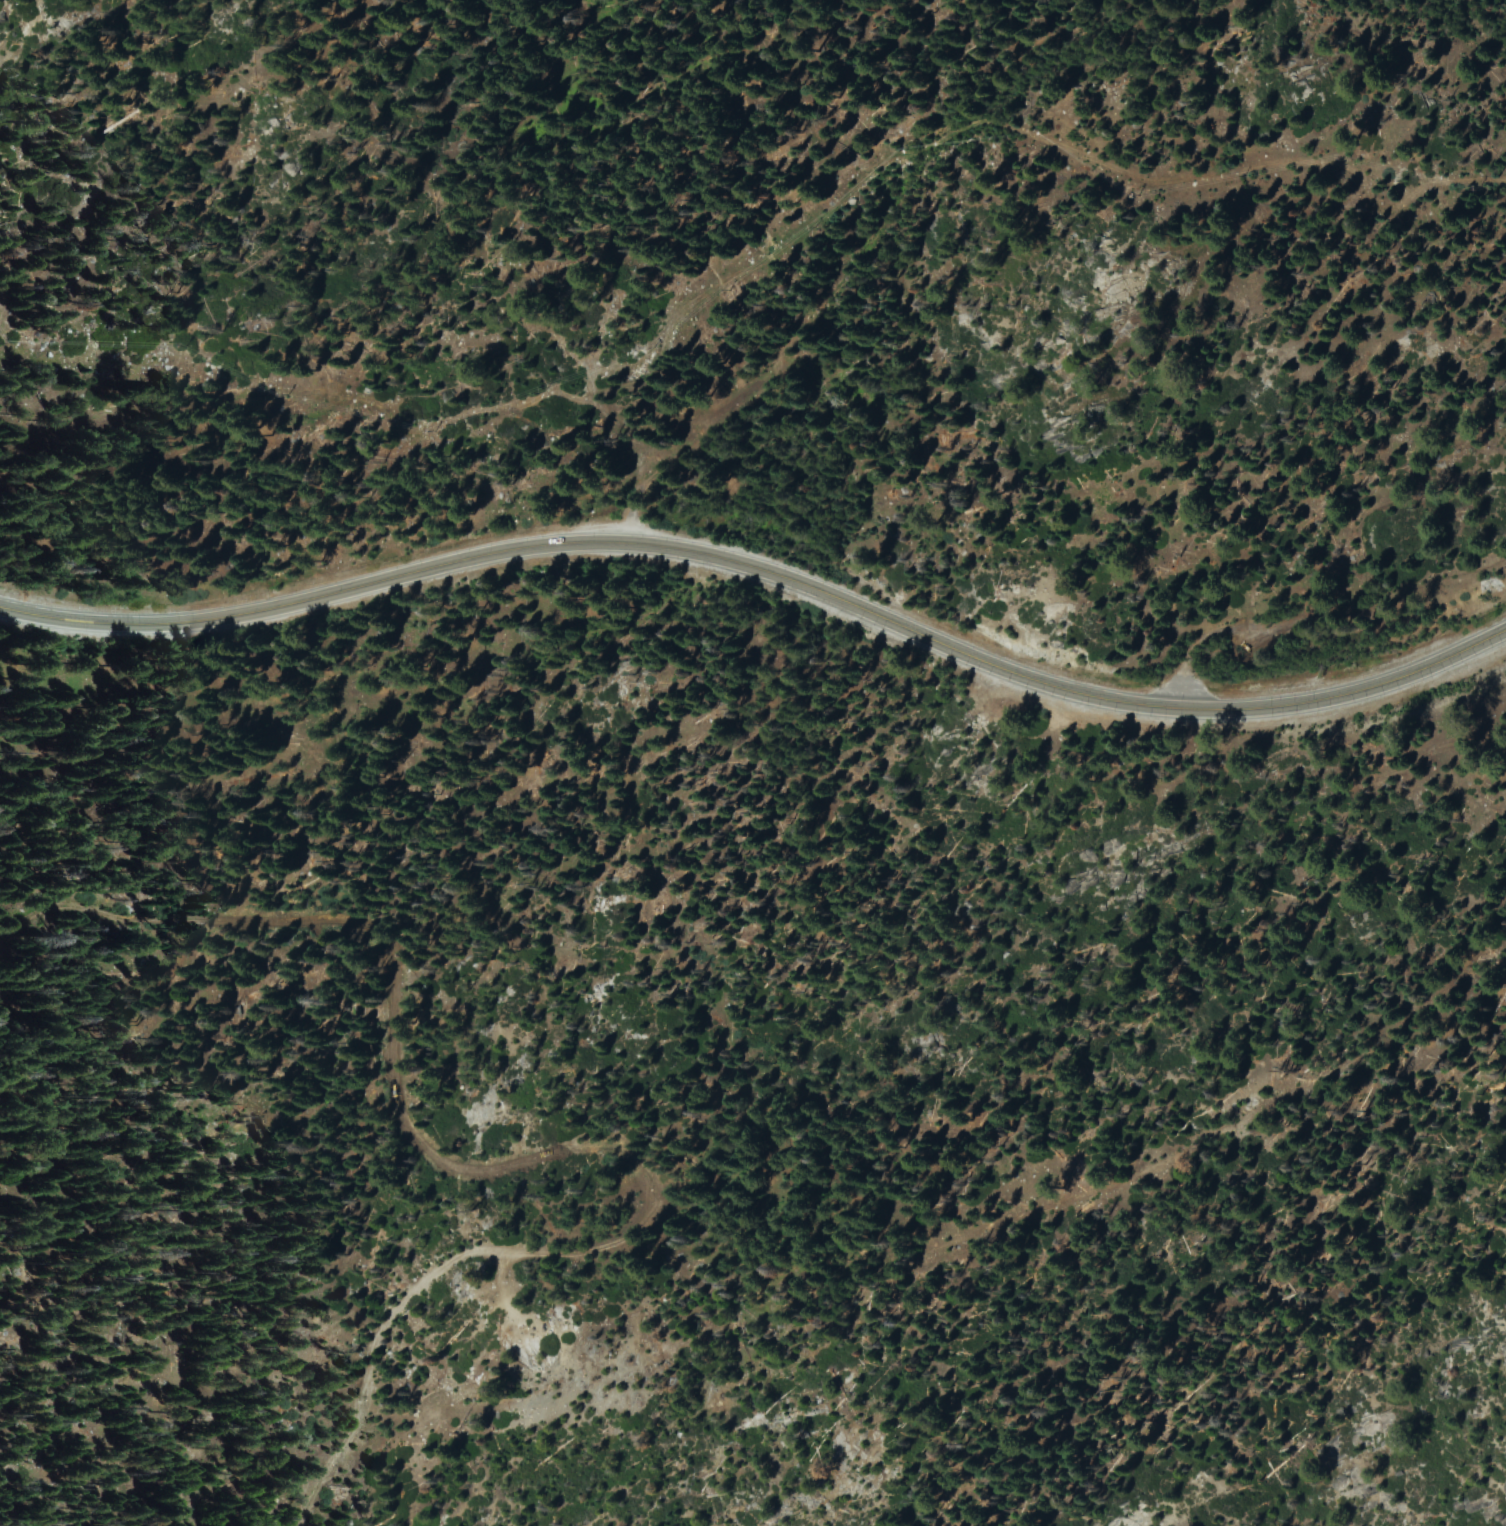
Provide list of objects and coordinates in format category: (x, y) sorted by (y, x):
road: (765, 572)
road: (518, 1164)

